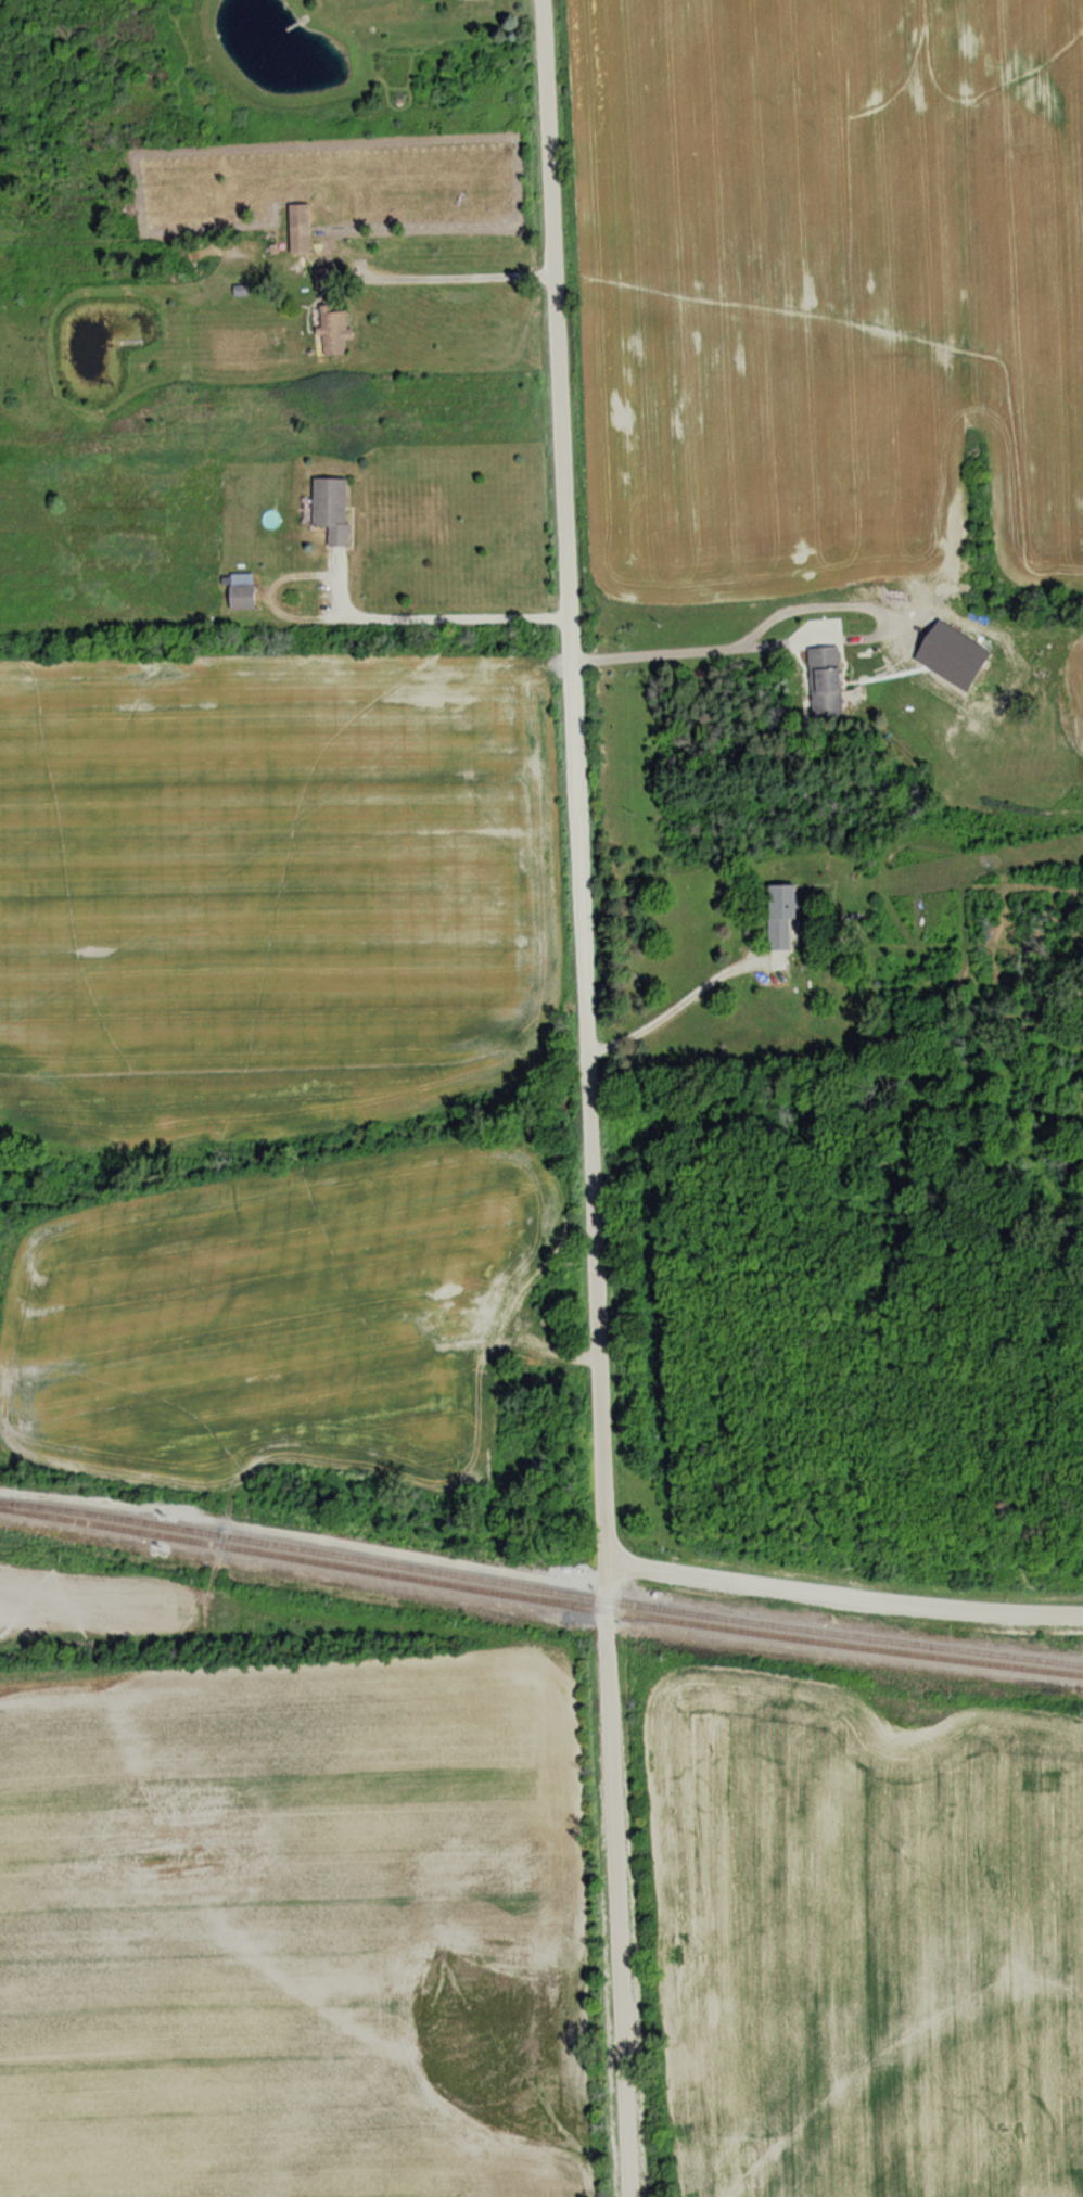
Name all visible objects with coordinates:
building: (462, 0)
building: (296, 229)
road: (453, 273)
building: (322, 274)
building: (329, 330)
building: (327, 509)
building: (238, 591)
road: (431, 614)
road: (690, 648)
building: (821, 682)
building: (778, 919)
road: (676, 1002)
road: (587, 1098)
railway: (540, 1588)
railway: (539, 1599)
road: (841, 1600)

